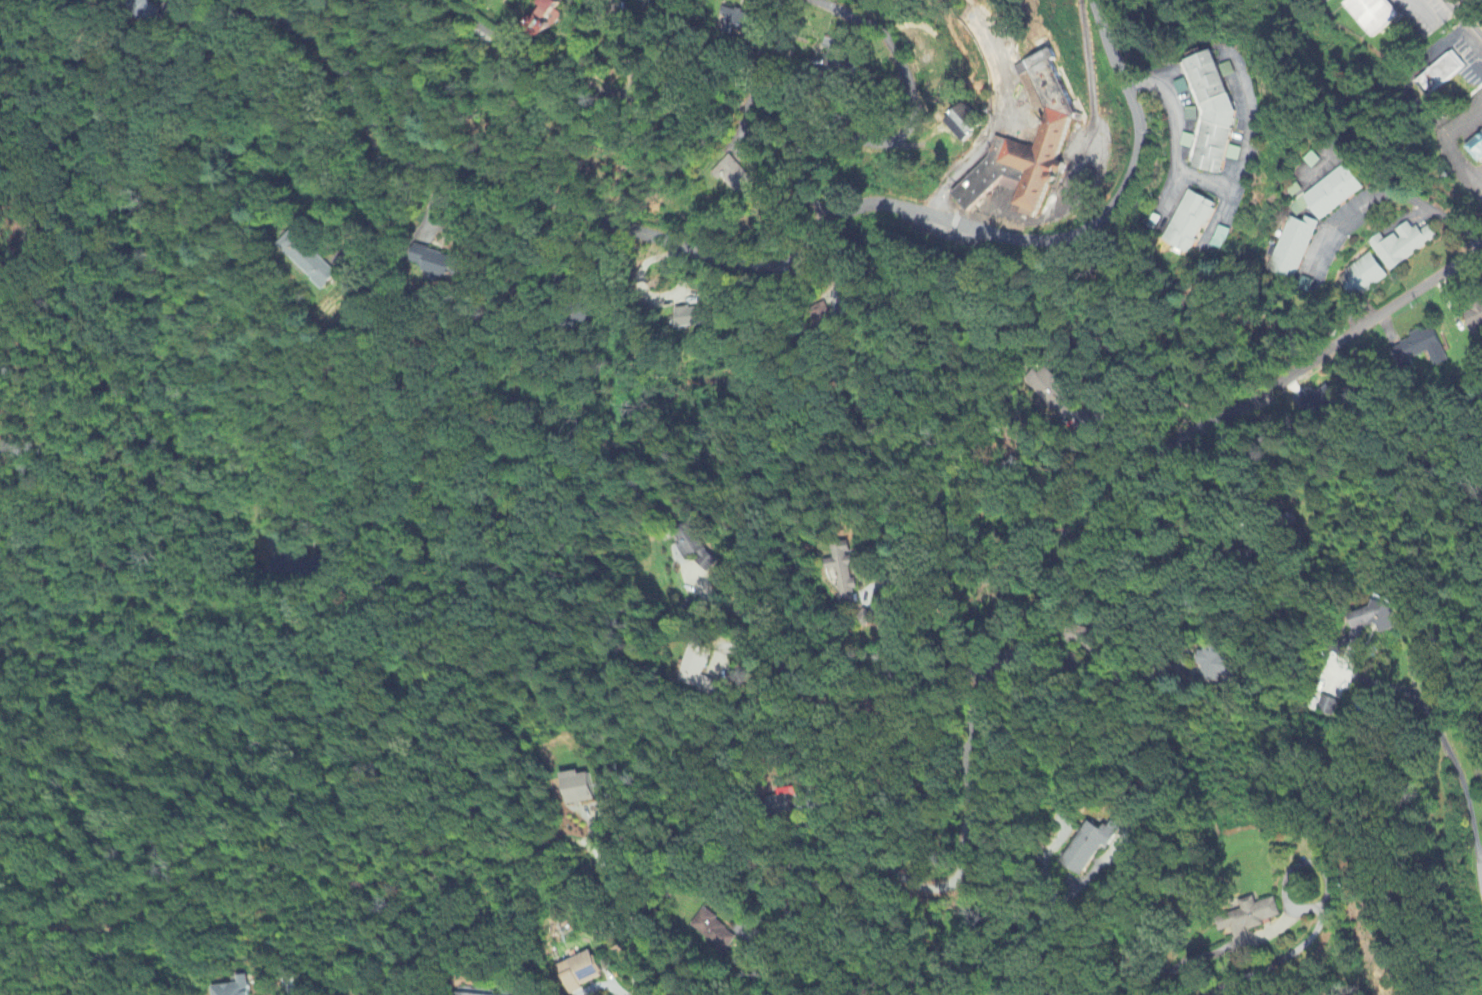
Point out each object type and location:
building: (551, 12)
road: (1194, 14)
building: (1373, 14)
road: (1466, 18)
building: (741, 22)
building: (838, 56)
building: (1447, 70)
road: (576, 83)
road: (1416, 101)
building: (1215, 114)
building: (1193, 115)
building: (968, 124)
road: (895, 137)
building: (1188, 141)
building: (1031, 148)
building: (1476, 148)
road: (973, 157)
building: (737, 177)
road: (1207, 182)
building: (1338, 193)
road: (1391, 194)
road: (382, 210)
building: (1191, 222)
building: (1223, 238)
building: (1292, 246)
building: (1401, 246)
building: (310, 258)
building: (438, 265)
road: (754, 267)
building: (1362, 277)
building: (1473, 317)
building: (693, 318)
building: (1420, 349)
building: (1053, 398)
building: (1315, 401)
road: (1144, 404)
road: (1148, 463)
road: (1195, 501)
building: (698, 548)
building: (844, 572)
road: (1136, 583)
road: (732, 609)
road: (876, 609)
building: (1377, 621)
building: (1212, 665)
building: (698, 670)
road: (875, 672)
building: (1334, 679)
building: (1324, 707)
road: (1460, 773)
building: (577, 789)
building: (792, 802)
building: (1088, 847)
road: (901, 881)
road: (1079, 883)
road: (1009, 905)
road: (631, 921)
building: (1252, 923)
building: (712, 932)
road: (1296, 952)
building: (581, 972)
building: (241, 988)
building: (463, 994)

